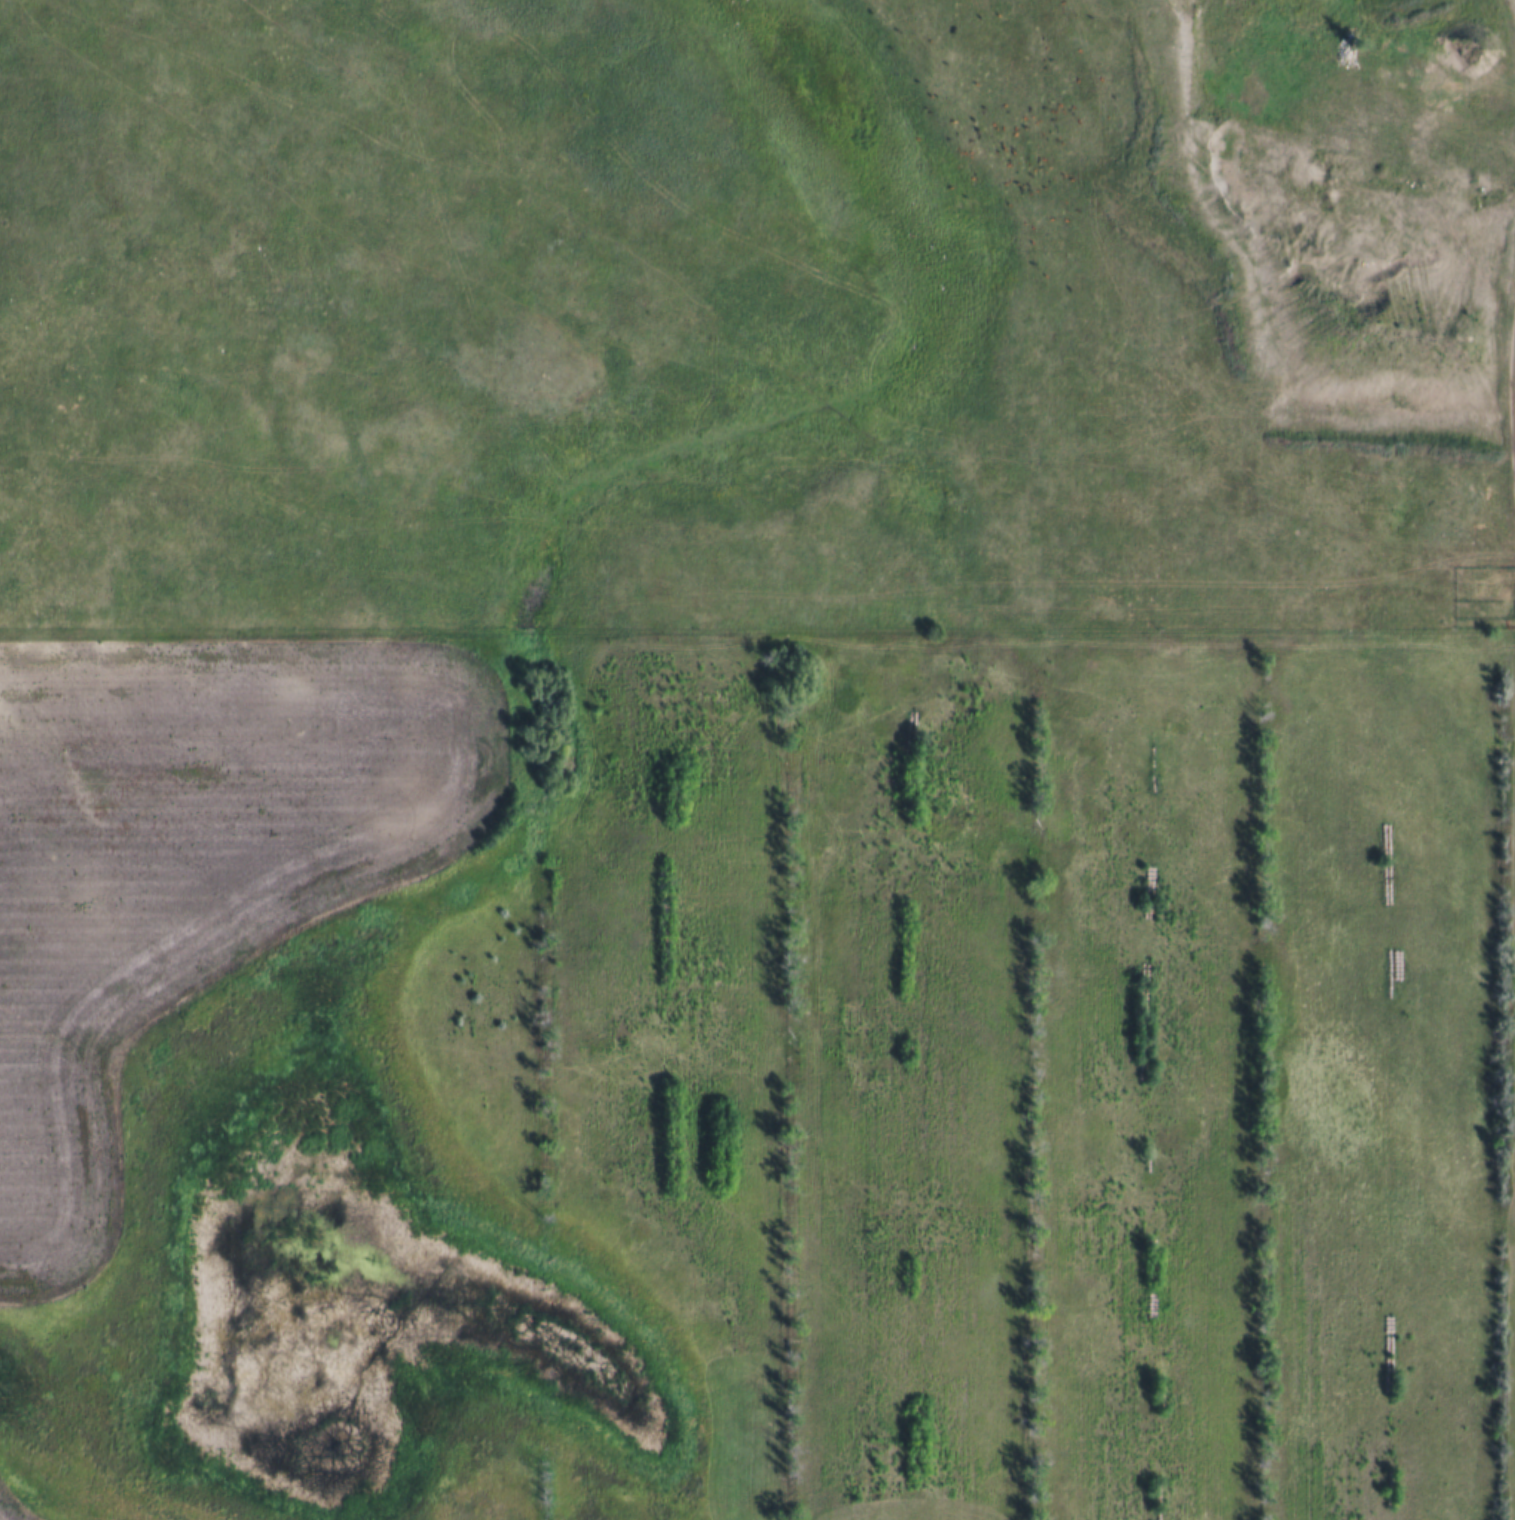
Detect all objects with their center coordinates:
road: (1384, 70)
quarry: (1360, 202)

